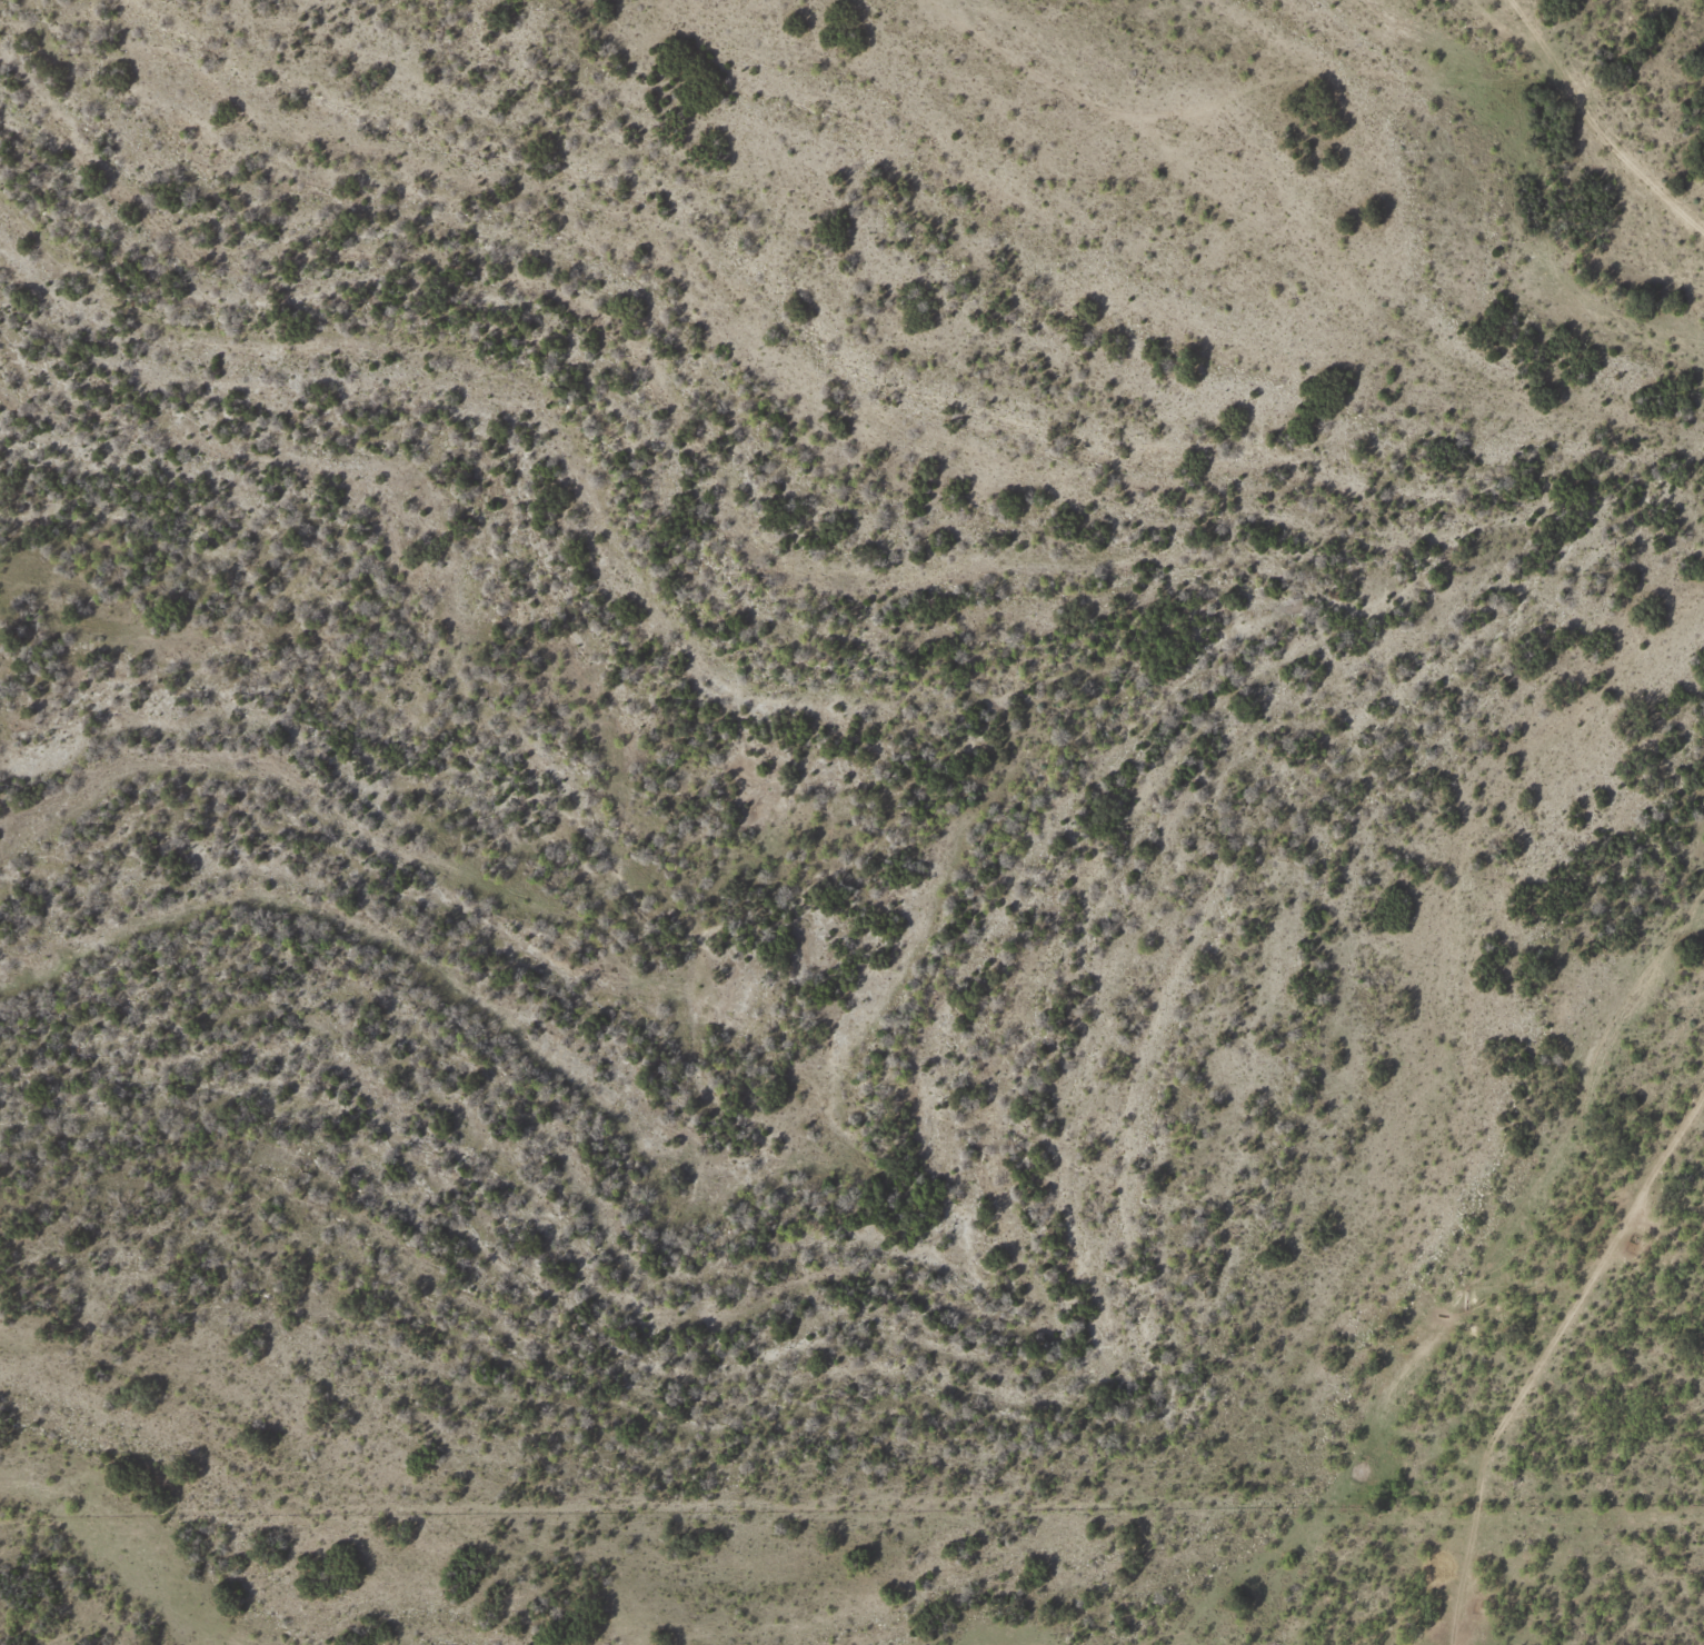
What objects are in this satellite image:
road: (1587, 116)
road: (1538, 1328)

